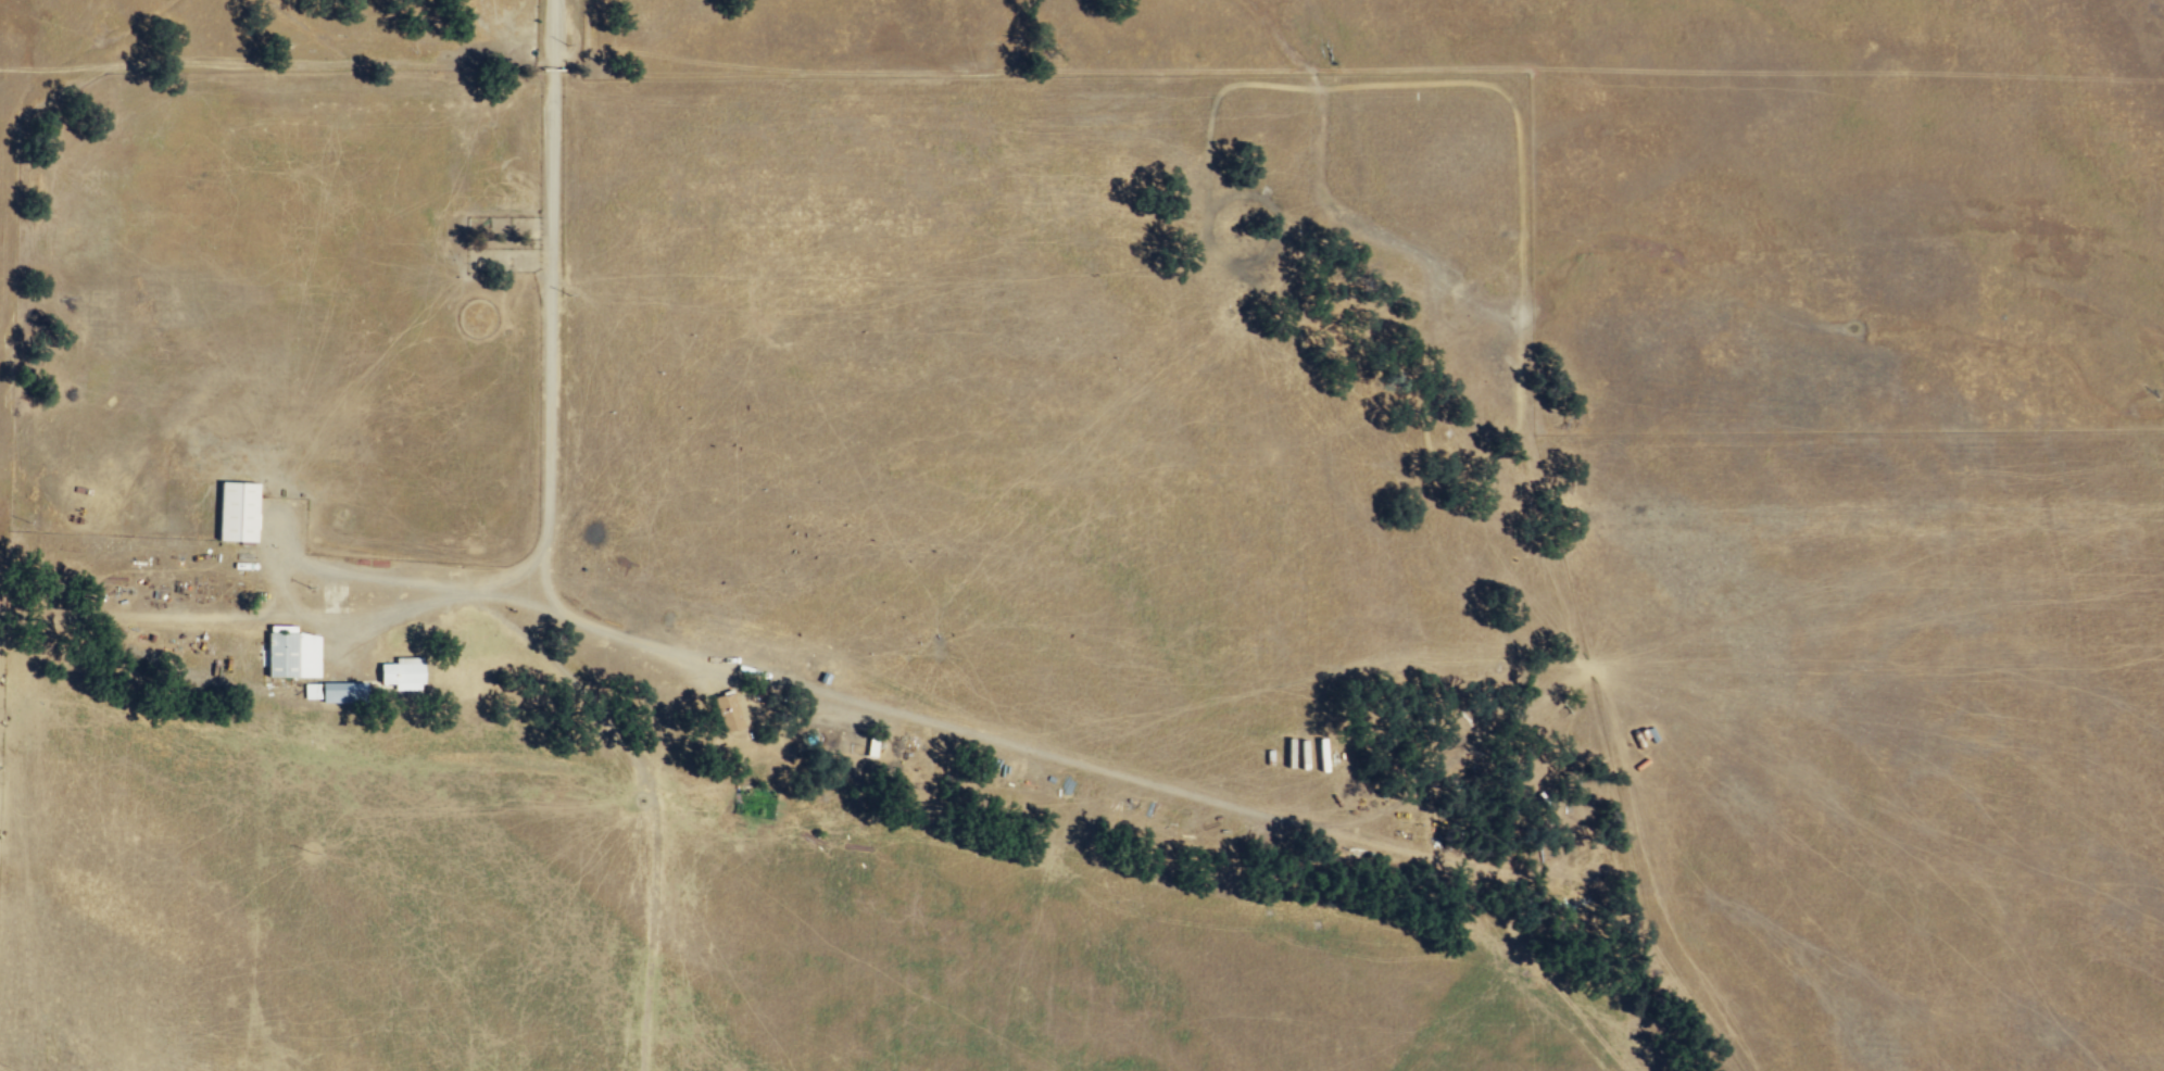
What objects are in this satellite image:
road: (554, 31)
road: (276, 63)
road: (552, 430)
building: (235, 511)
building: (400, 672)
building: (310, 690)
building: (340, 691)
building: (725, 711)
building: (838, 739)

